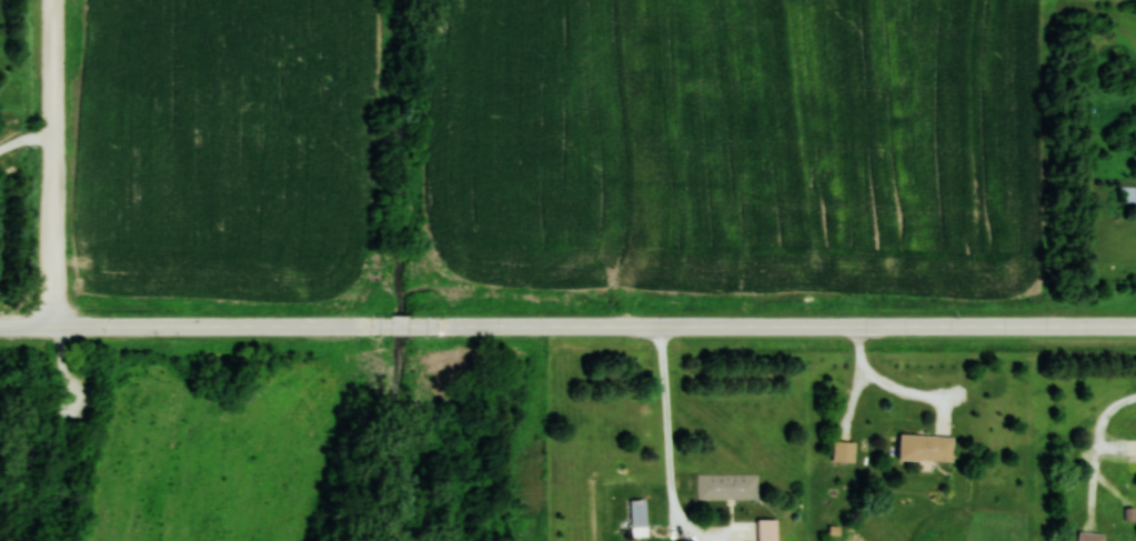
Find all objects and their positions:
road: (54, 162)
road: (830, 324)
road: (261, 325)
building: (927, 447)
building: (844, 451)
building: (726, 485)
building: (637, 512)
building: (767, 529)
building: (1090, 537)

